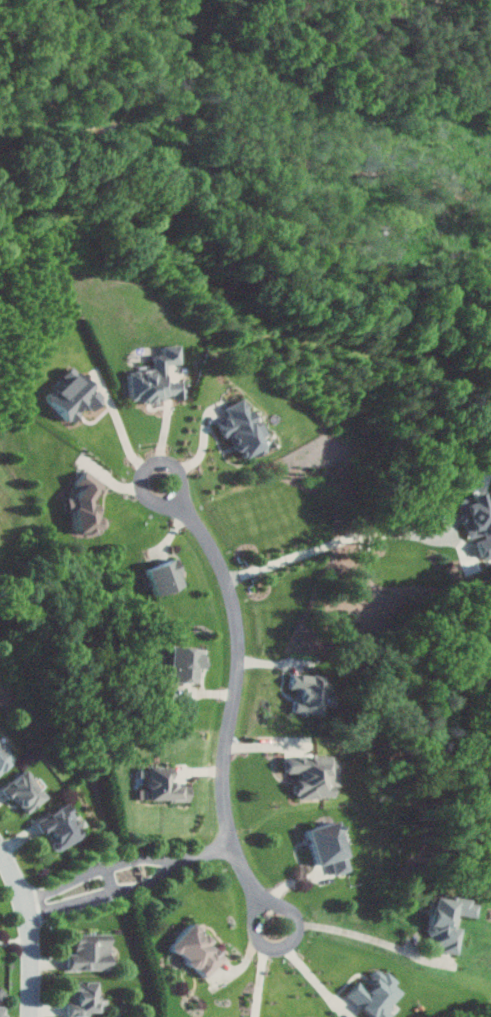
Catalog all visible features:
road: (189, 121)
building: (156, 376)
building: (72, 392)
building: (242, 428)
road: (132, 447)
road: (205, 453)
building: (83, 502)
building: (478, 522)
road: (336, 542)
building: (163, 576)
building: (184, 664)
building: (312, 693)
road: (236, 700)
building: (3, 758)
building: (310, 776)
building: (162, 786)
building: (21, 793)
building: (57, 828)
building: (321, 847)
road: (133, 875)
building: (444, 922)
road: (33, 927)
road: (369, 936)
building: (197, 952)
building: (89, 953)
road: (267, 971)
road: (315, 975)
building: (377, 994)
building: (82, 1000)
building: (0, 1011)

